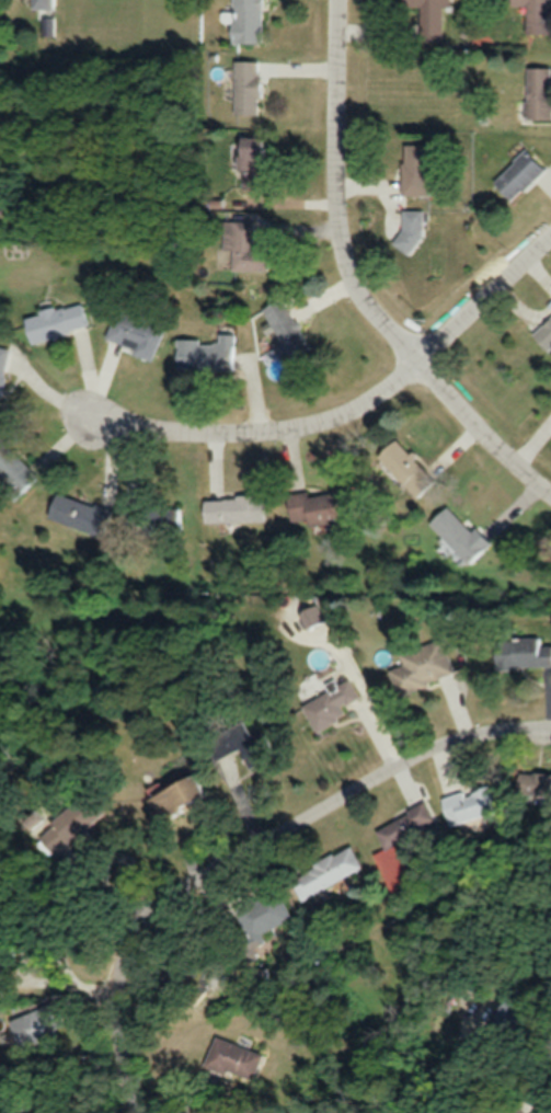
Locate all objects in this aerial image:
building: (42, 3)
building: (536, 15)
building: (428, 19)
building: (246, 21)
building: (245, 87)
building: (538, 92)
building: (250, 161)
building: (415, 169)
building: (518, 174)
building: (410, 229)
building: (243, 245)
road: (355, 284)
building: (55, 321)
building: (287, 332)
building: (134, 333)
building: (207, 353)
building: (2, 368)
road: (351, 417)
building: (405, 467)
building: (14, 471)
building: (322, 505)
building: (233, 507)
building: (80, 513)
building: (172, 518)
building: (460, 535)
building: (312, 615)
building: (521, 652)
building: (422, 666)
road: (375, 695)
building: (329, 704)
building: (241, 744)
building: (533, 784)
building: (171, 793)
building: (470, 804)
road: (334, 807)
building: (66, 824)
building: (391, 846)
building: (325, 872)
building: (254, 923)
building: (3, 950)
building: (184, 982)
road: (120, 1021)
building: (35, 1026)
building: (232, 1057)

